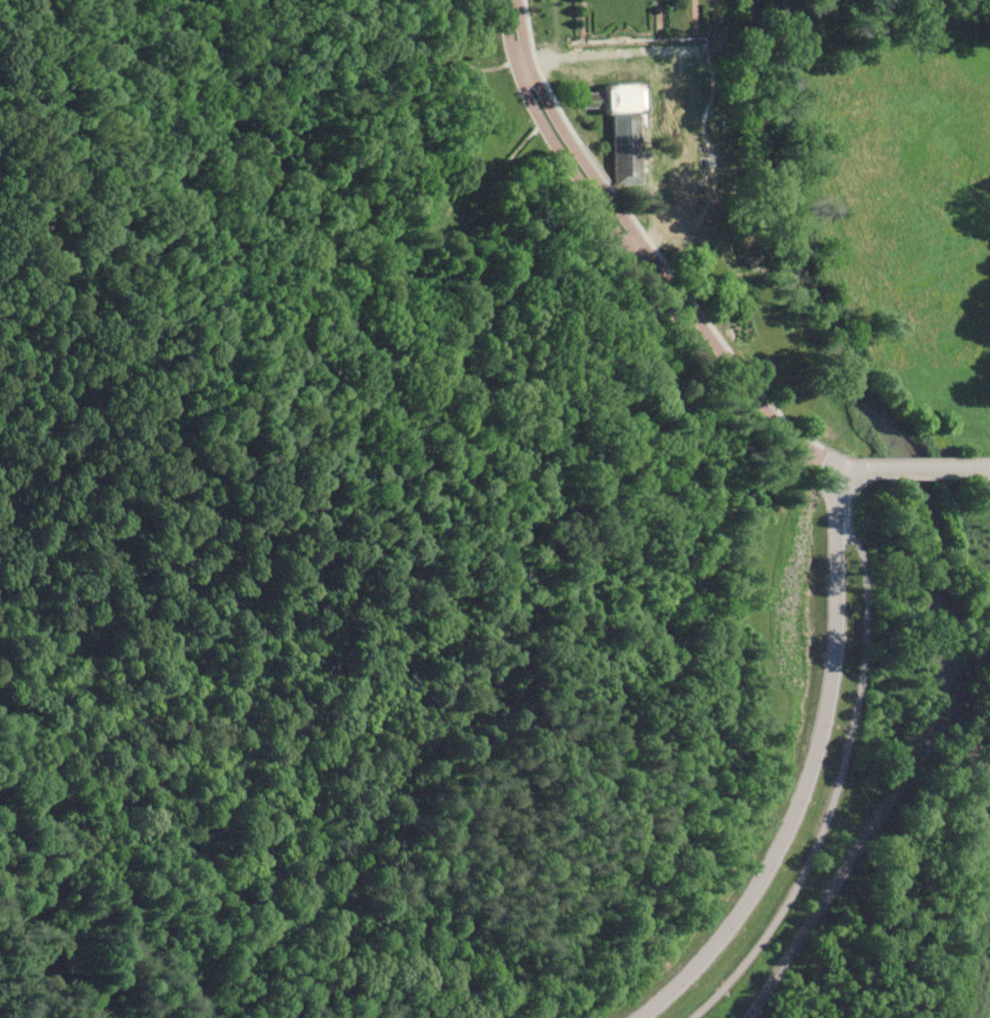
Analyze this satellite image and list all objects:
road: (660, 22)
road: (642, 79)
building: (626, 132)
road: (641, 246)
river: (856, 388)
road: (962, 430)
road: (890, 435)
road: (908, 461)
railway: (986, 650)
railway: (961, 688)
road: (846, 749)
road: (813, 768)
railway: (845, 869)
river: (987, 1005)

